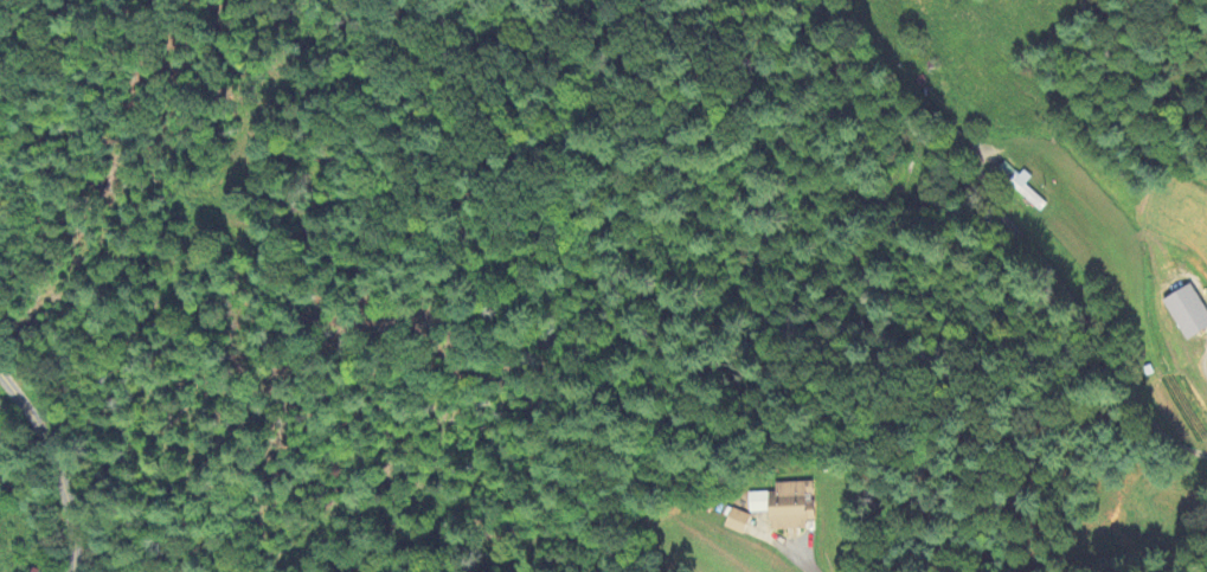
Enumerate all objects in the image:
building: (1021, 186)
building: (1186, 313)
road: (1205, 365)
road: (53, 464)
building: (784, 506)
building: (736, 522)
road: (803, 564)
building: (41, 571)

